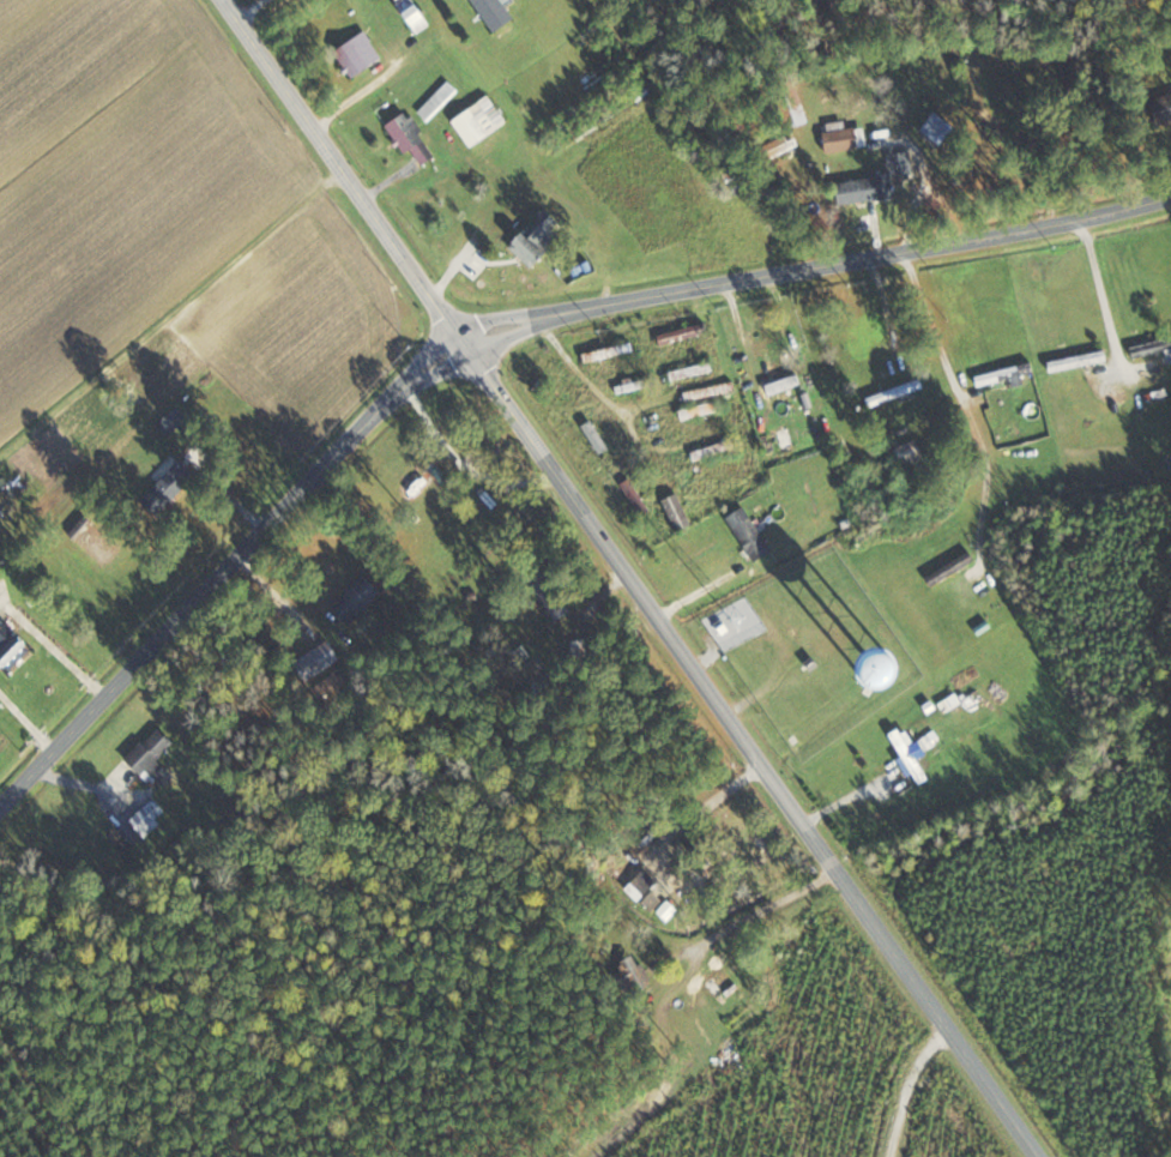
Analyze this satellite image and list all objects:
road: (247, 8)
building: (490, 13)
building: (410, 16)
building: (355, 54)
road: (388, 72)
building: (436, 101)
building: (789, 106)
building: (1160, 109)
building: (477, 121)
building: (934, 127)
building: (838, 137)
building: (408, 138)
building: (882, 138)
building: (775, 147)
building: (874, 182)
building: (532, 234)
road: (1100, 289)
road: (493, 327)
building: (678, 335)
building: (1151, 348)
building: (606, 351)
building: (1075, 361)
building: (689, 370)
building: (780, 374)
building: (1003, 374)
building: (622, 387)
road: (605, 392)
building: (893, 392)
road: (959, 397)
building: (698, 410)
building: (592, 435)
building: (785, 438)
building: (711, 450)
building: (906, 453)
building: (716, 474)
building: (636, 488)
building: (157, 495)
building: (6, 507)
building: (675, 512)
building: (747, 534)
building: (948, 568)
road: (627, 580)
building: (352, 599)
building: (554, 602)
building: (8, 650)
building: (314, 661)
building: (834, 668)
water tower: (873, 670)
building: (146, 753)
building: (906, 755)
road: (760, 909)
building: (629, 972)
building: (718, 982)
road: (913, 1087)

